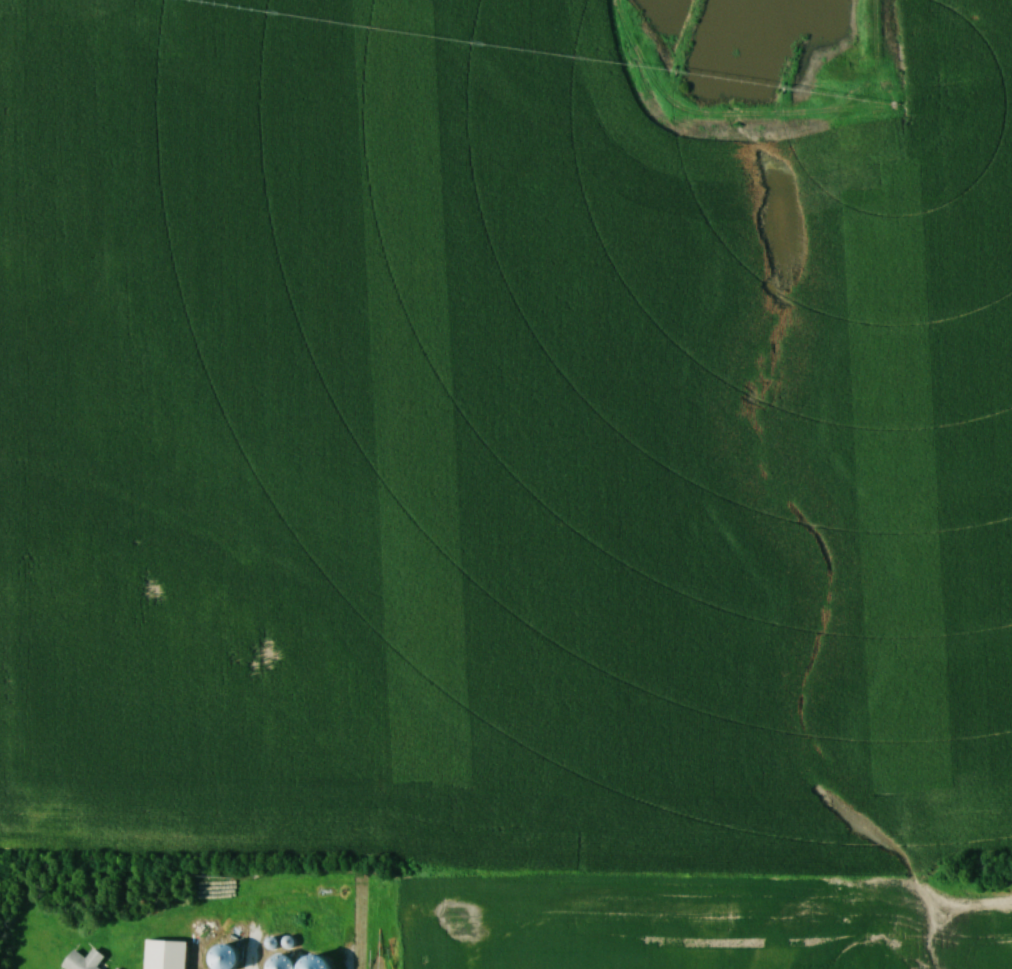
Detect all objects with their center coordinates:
building: (167, 955)
building: (85, 961)
building: (224, 964)

